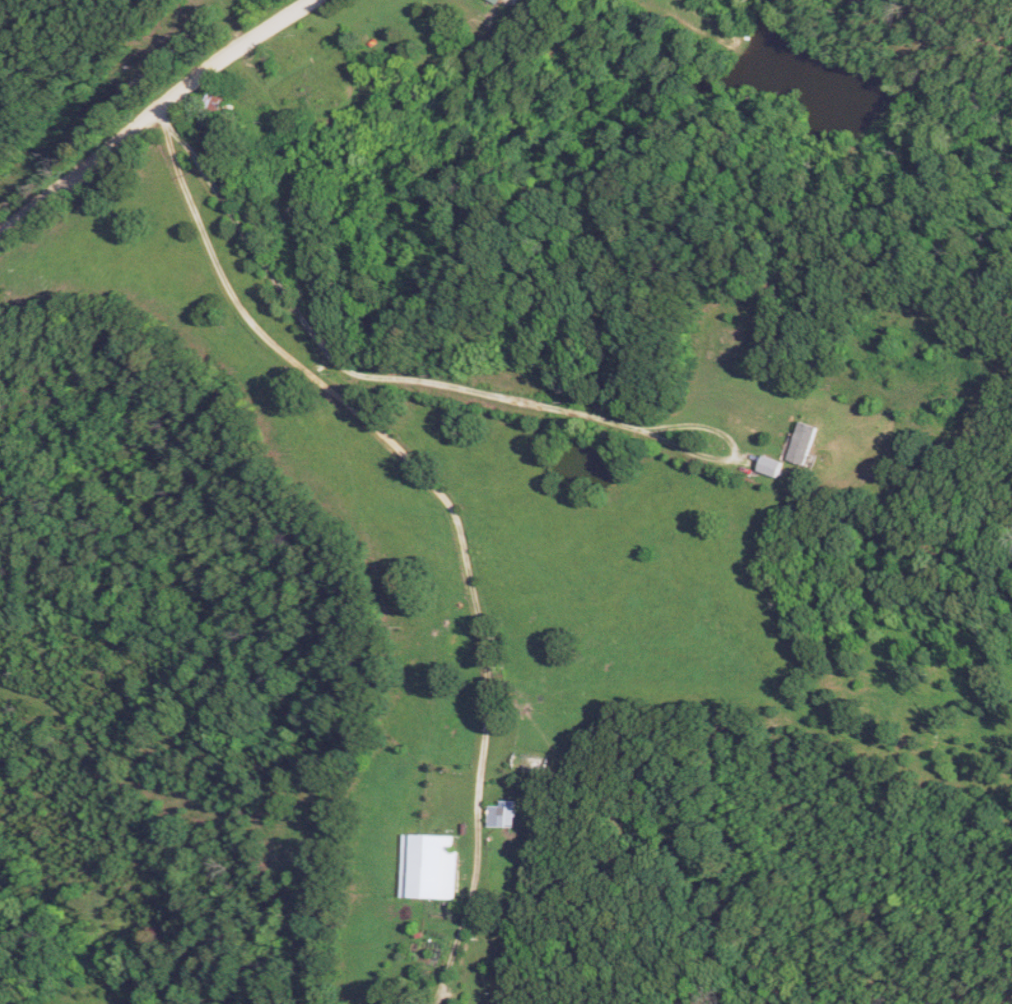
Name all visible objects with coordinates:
building: (500, 1)
building: (219, 101)
road: (158, 113)
road: (454, 385)
building: (807, 444)
building: (775, 467)
road: (451, 508)
building: (506, 815)
building: (432, 868)

